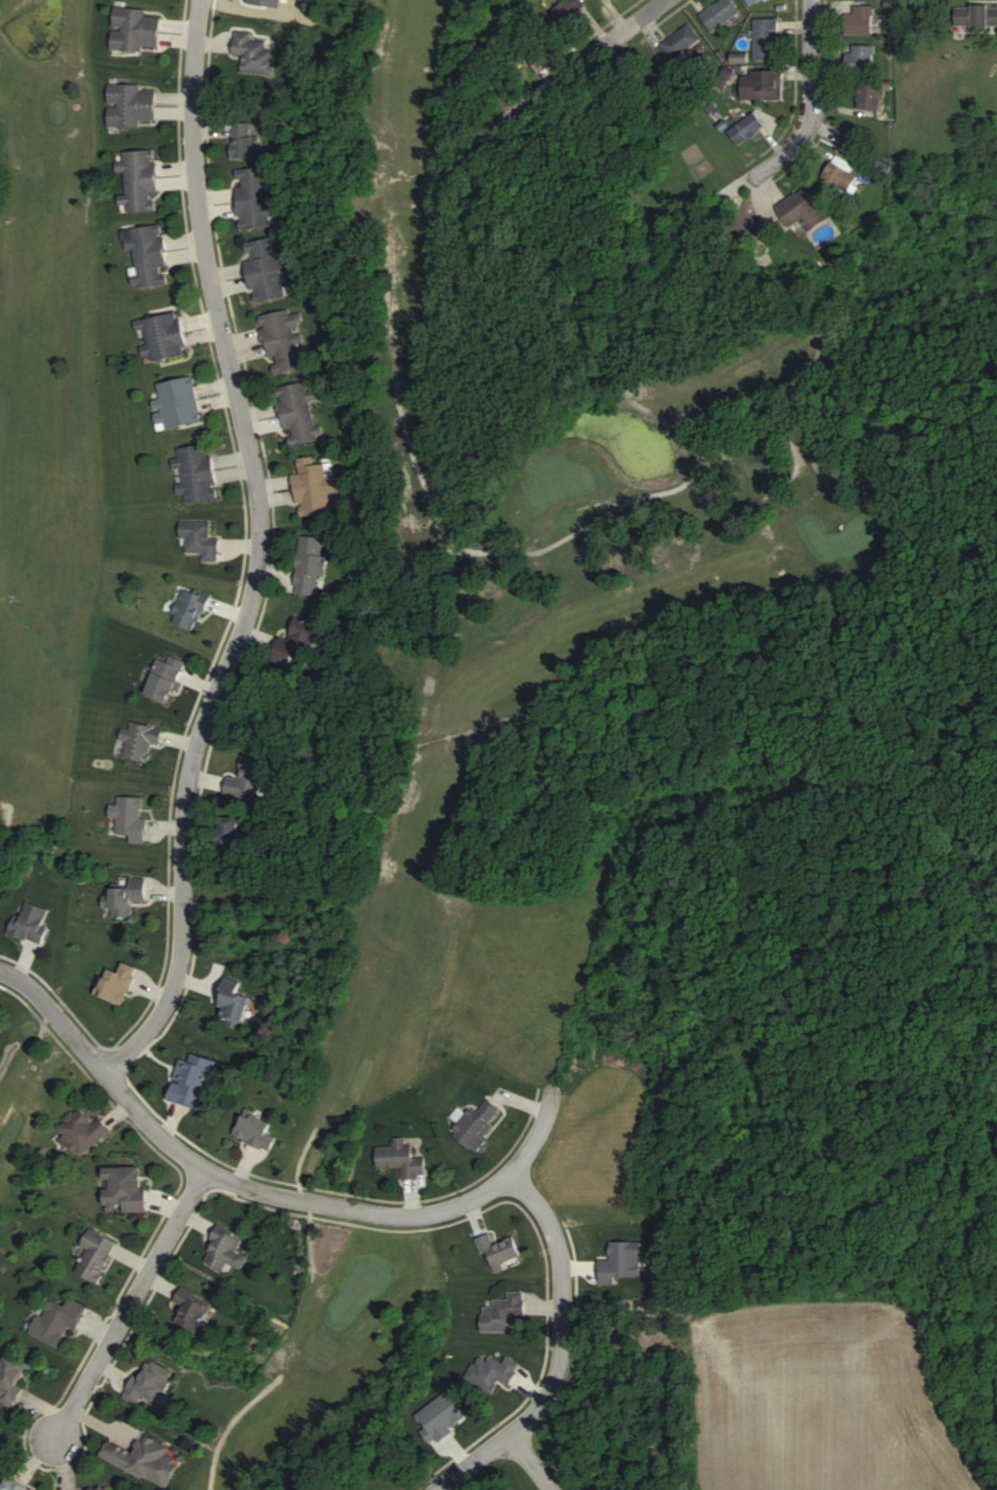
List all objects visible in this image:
building: (600, 0)
building: (755, 0)
building: (568, 9)
building: (720, 13)
building: (976, 18)
building: (859, 21)
building: (136, 30)
building: (767, 39)
building: (681, 41)
building: (255, 53)
building: (861, 60)
road: (573, 66)
building: (763, 85)
building: (871, 97)
building: (131, 106)
road: (810, 106)
building: (747, 129)
building: (855, 138)
building: (245, 141)
building: (845, 171)
building: (140, 182)
building: (255, 197)
building: (804, 209)
building: (148, 256)
building: (268, 269)
building: (163, 338)
building: (285, 341)
building: (178, 405)
building: (301, 414)
building: (197, 473)
building: (312, 486)
park: (50, 512)
building: (201, 539)
road: (261, 550)
building: (312, 565)
building: (191, 608)
building: (300, 642)
building: (166, 677)
park: (512, 682)
building: (142, 741)
building: (248, 780)
building: (132, 817)
building: (125, 899)
building: (33, 921)
building: (118, 983)
building: (236, 1003)
building: (193, 1082)
building: (478, 1124)
building: (257, 1131)
building: (80, 1132)
building: (402, 1159)
building: (126, 1190)
road: (461, 1206)
building: (501, 1251)
building: (226, 1252)
building: (97, 1255)
road: (130, 1306)
building: (193, 1311)
building: (505, 1313)
building: (59, 1318)
road: (563, 1352)
building: (493, 1372)
building: (11, 1382)
building: (150, 1383)
building: (146, 1460)
road: (530, 1463)
building: (12, 1485)
building: (102, 1487)

